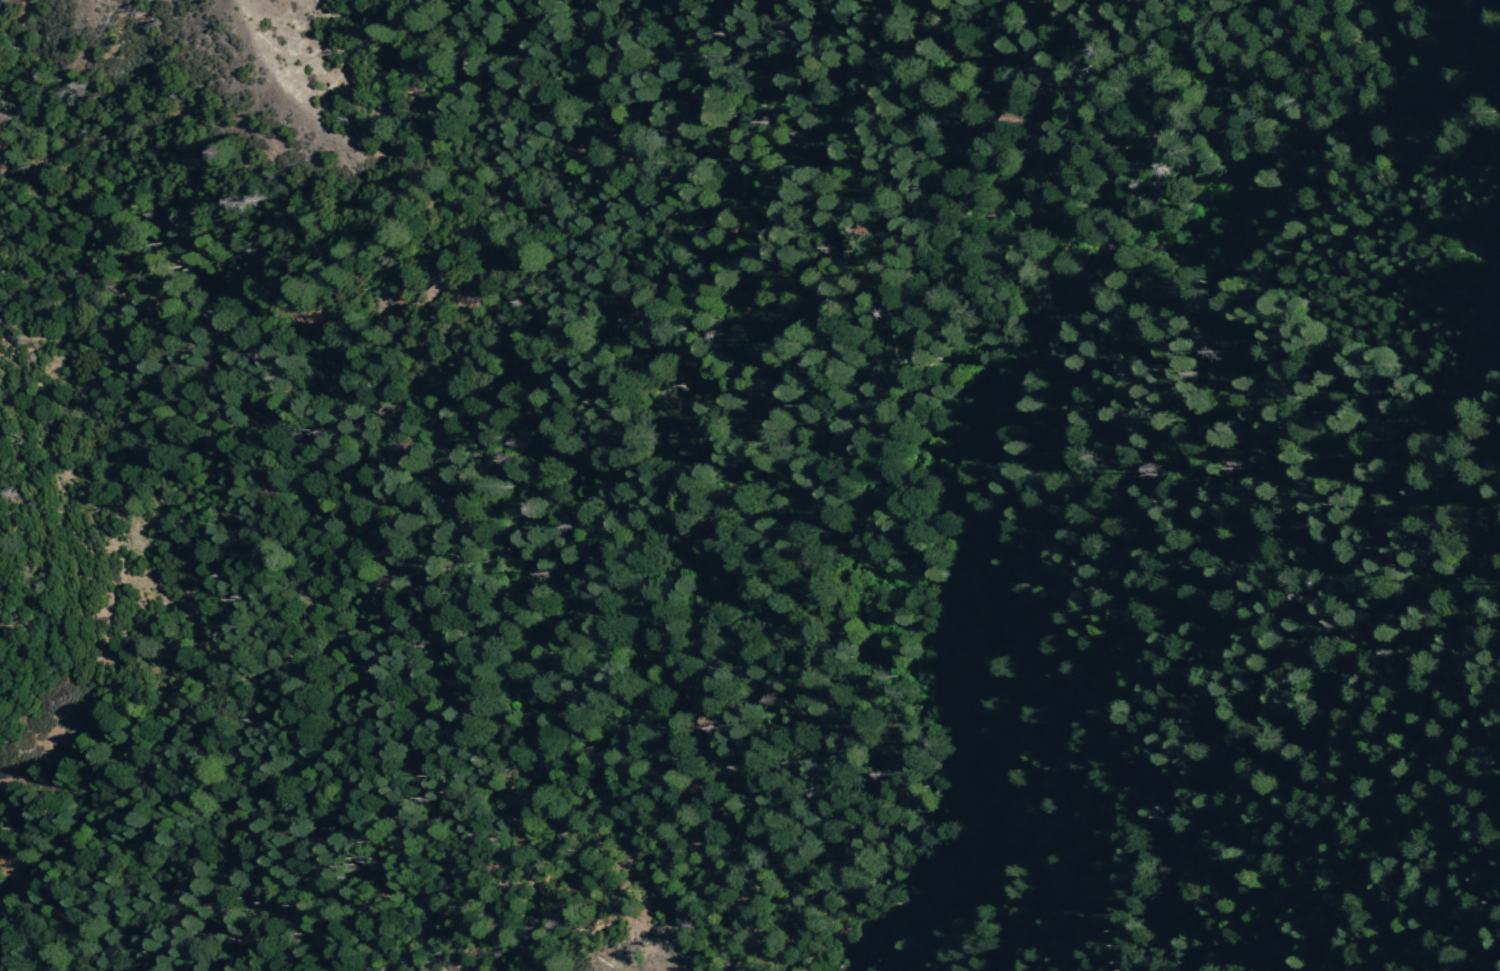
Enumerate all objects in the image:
road: (579, 784)
road: (13, 878)

